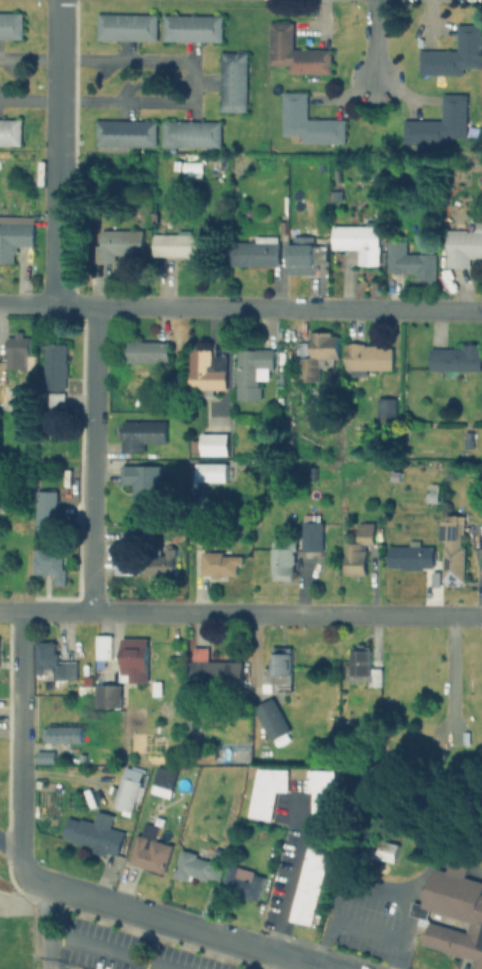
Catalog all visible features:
building: (10, 25)
building: (126, 27)
building: (191, 29)
road: (373, 42)
building: (294, 52)
building: (454, 54)
road: (29, 55)
road: (190, 78)
building: (233, 81)
road: (28, 97)
building: (308, 122)
building: (438, 123)
building: (9, 132)
building: (124, 133)
building: (190, 134)
road: (56, 151)
building: (335, 195)
building: (13, 234)
building: (356, 242)
building: (117, 244)
building: (462, 246)
building: (186, 247)
building: (252, 254)
building: (301, 255)
building: (409, 261)
road: (240, 306)
building: (16, 351)
building: (146, 352)
building: (315, 356)
building: (366, 358)
building: (456, 359)
building: (54, 366)
building: (202, 372)
building: (249, 374)
building: (18, 394)
building: (54, 399)
building: (386, 412)
building: (141, 433)
building: (467, 440)
building: (213, 444)
road: (92, 458)
building: (212, 473)
building: (143, 483)
building: (432, 498)
building: (45, 506)
building: (364, 532)
building: (311, 536)
building: (203, 539)
building: (453, 552)
building: (410, 556)
building: (354, 560)
building: (162, 561)
building: (282, 561)
building: (124, 563)
building: (50, 564)
building: (225, 565)
road: (241, 613)
building: (103, 647)
building: (132, 660)
building: (53, 661)
building: (364, 667)
building: (213, 670)
building: (278, 672)
building: (108, 695)
building: (271, 719)
building: (64, 734)
road: (20, 746)
building: (44, 756)
building: (82, 759)
building: (164, 782)
building: (266, 792)
building: (126, 793)
building: (95, 834)
building: (314, 845)
building: (383, 849)
building: (149, 851)
road: (10, 856)
building: (197, 867)
road: (290, 874)
building: (243, 880)
road: (355, 888)
road: (414, 889)
building: (453, 912)
road: (176, 923)
road: (342, 924)
parking lot: (364, 924)
parking lot: (111, 949)
park: (15, 952)
road: (52, 952)
road: (110, 952)
road: (274, 962)

